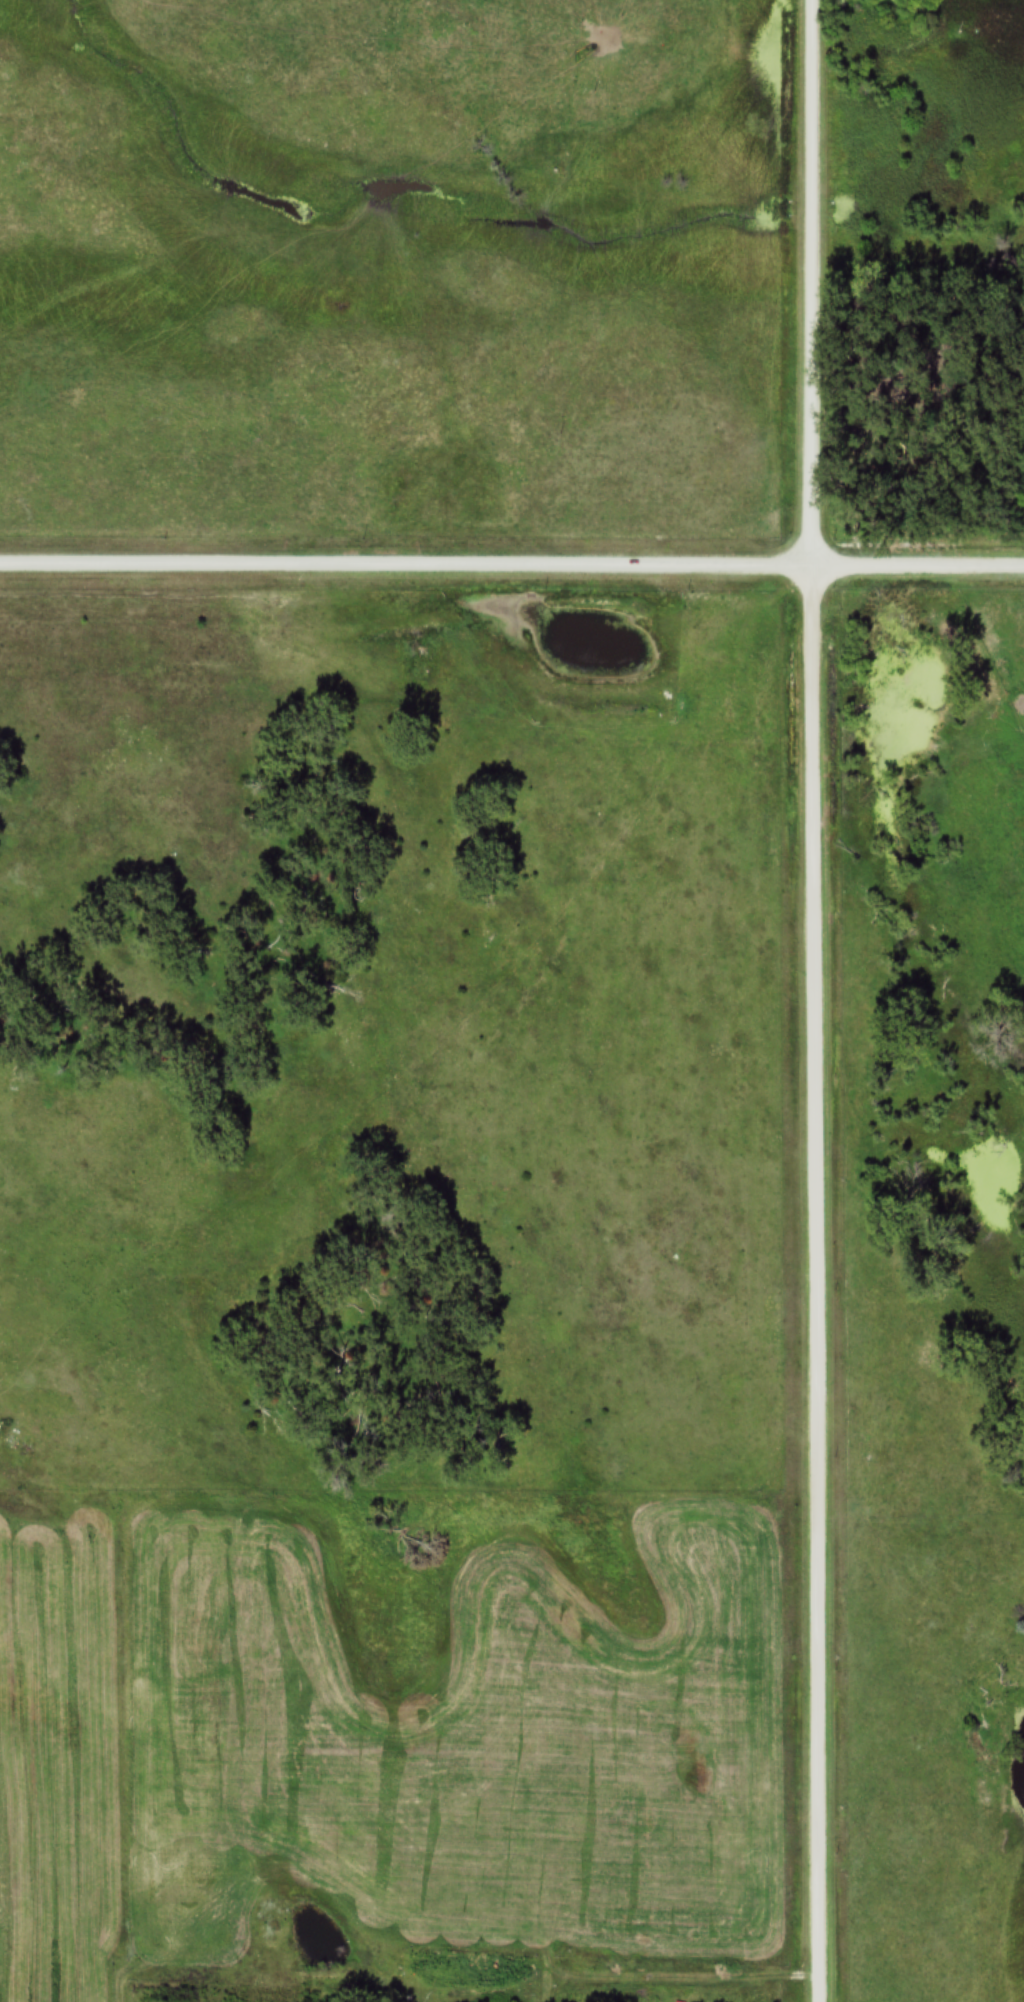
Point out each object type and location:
road: (511, 561)
road: (809, 1001)

